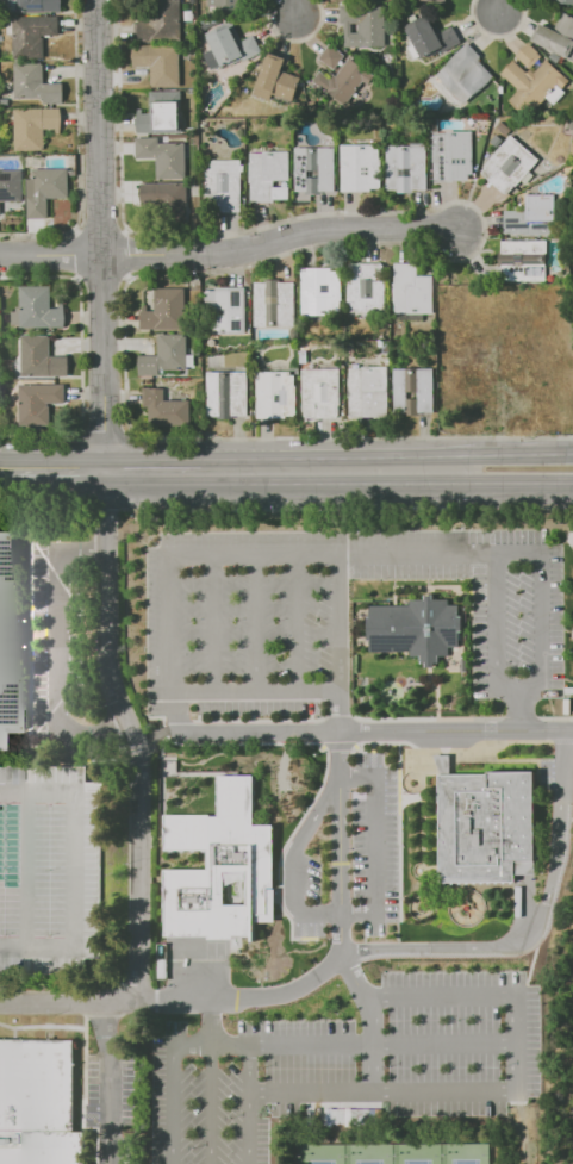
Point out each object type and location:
building: (563, 0)
building: (437, 1)
building: (38, 5)
road: (294, 5)
road: (498, 5)
building: (223, 7)
building: (162, 21)
building: (363, 24)
building: (32, 35)
road: (496, 35)
building: (431, 37)
building: (556, 37)
road: (293, 39)
building: (230, 46)
building: (529, 56)
building: (331, 57)
building: (160, 63)
building: (465, 73)
building: (276, 79)
building: (344, 80)
building: (36, 83)
building: (532, 85)
building: (162, 113)
building: (35, 126)
building: (505, 127)
building: (497, 141)
building: (164, 155)
building: (453, 155)
building: (509, 164)
building: (406, 167)
building: (360, 168)
building: (313, 172)
building: (268, 175)
building: (225, 183)
building: (11, 186)
building: (45, 189)
building: (164, 194)
building: (532, 216)
road: (102, 235)
road: (320, 243)
road: (230, 250)
building: (523, 261)
building: (366, 285)
building: (412, 290)
building: (320, 291)
building: (274, 303)
building: (37, 309)
building: (166, 310)
building: (224, 310)
building: (442, 347)
building: (167, 356)
building: (44, 360)
building: (490, 375)
building: (413, 390)
building: (0, 391)
building: (320, 392)
building: (368, 392)
building: (228, 394)
building: (276, 394)
building: (42, 404)
building: (168, 410)
road: (479, 455)
road: (7, 472)
road: (60, 472)
road: (154, 472)
road: (294, 473)
road: (479, 487)
road: (365, 509)
road: (572, 546)
road: (82, 548)
road: (519, 552)
road: (244, 555)
road: (107, 597)
parking lot: (517, 615)
parking lot: (269, 616)
road: (298, 622)
road: (340, 622)
road: (213, 623)
road: (256, 623)
building: (416, 628)
building: (6, 633)
parking lot: (58, 635)
road: (56, 651)
road: (256, 691)
road: (523, 711)
road: (556, 717)
road: (102, 732)
road: (373, 732)
road: (341, 824)
building: (486, 826)
road: (375, 846)
parking lot: (345, 852)
road: (142, 858)
road: (294, 860)
building: (222, 867)
building: (51, 871)
road: (548, 885)
building: (162, 969)
road: (291, 990)
road: (71, 1000)
road: (369, 1022)
road: (516, 1039)
road: (338, 1044)
road: (191, 1045)
parking lot: (356, 1052)
road: (118, 1082)
road: (309, 1094)
building: (43, 1104)
road: (172, 1104)
road: (208, 1104)
road: (247, 1104)
park: (393, 1153)

